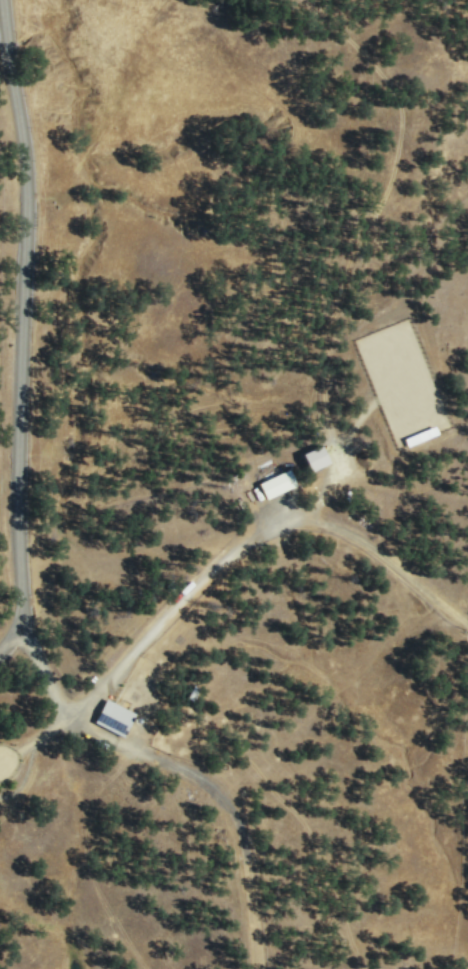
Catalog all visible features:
road: (20, 316)
park: (402, 381)
building: (313, 456)
building: (275, 482)
road: (250, 535)
road: (11, 643)
building: (111, 717)
road: (185, 769)

